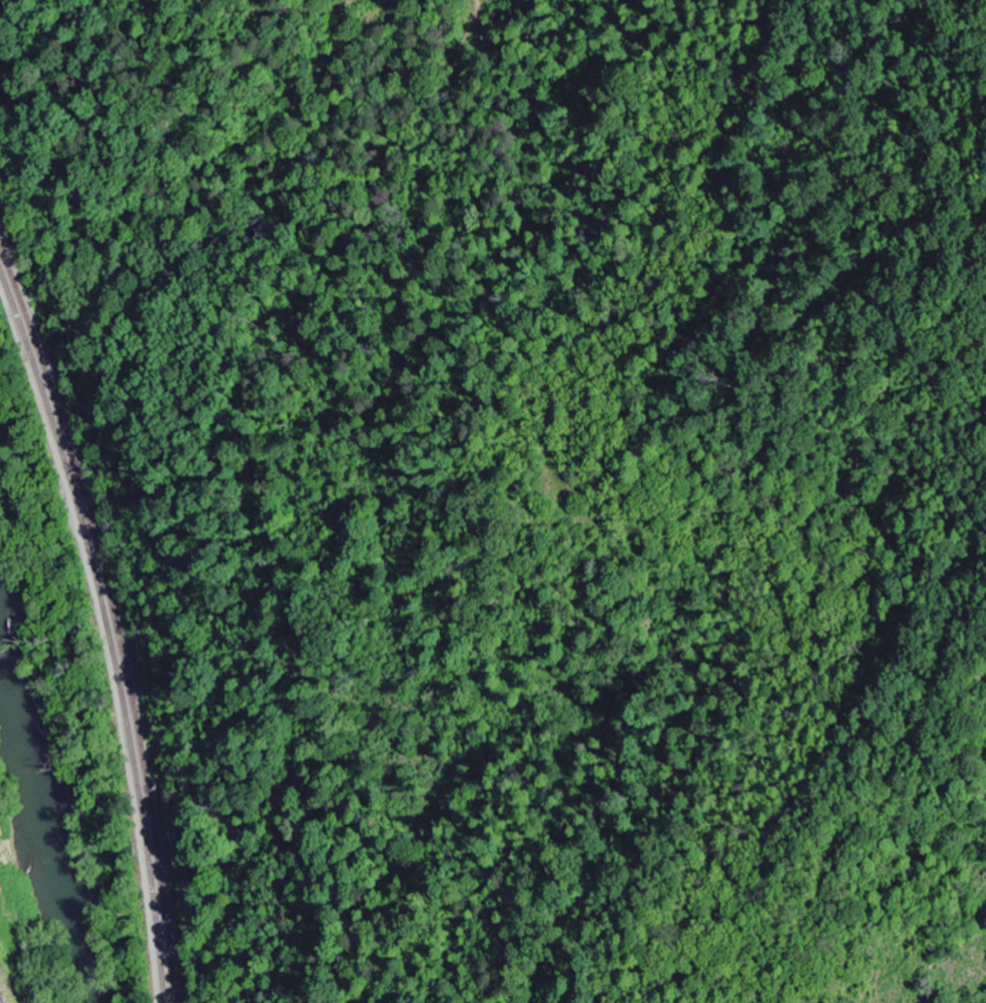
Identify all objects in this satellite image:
railway: (109, 619)
railway: (102, 633)
river: (32, 839)
building: (0, 1001)

